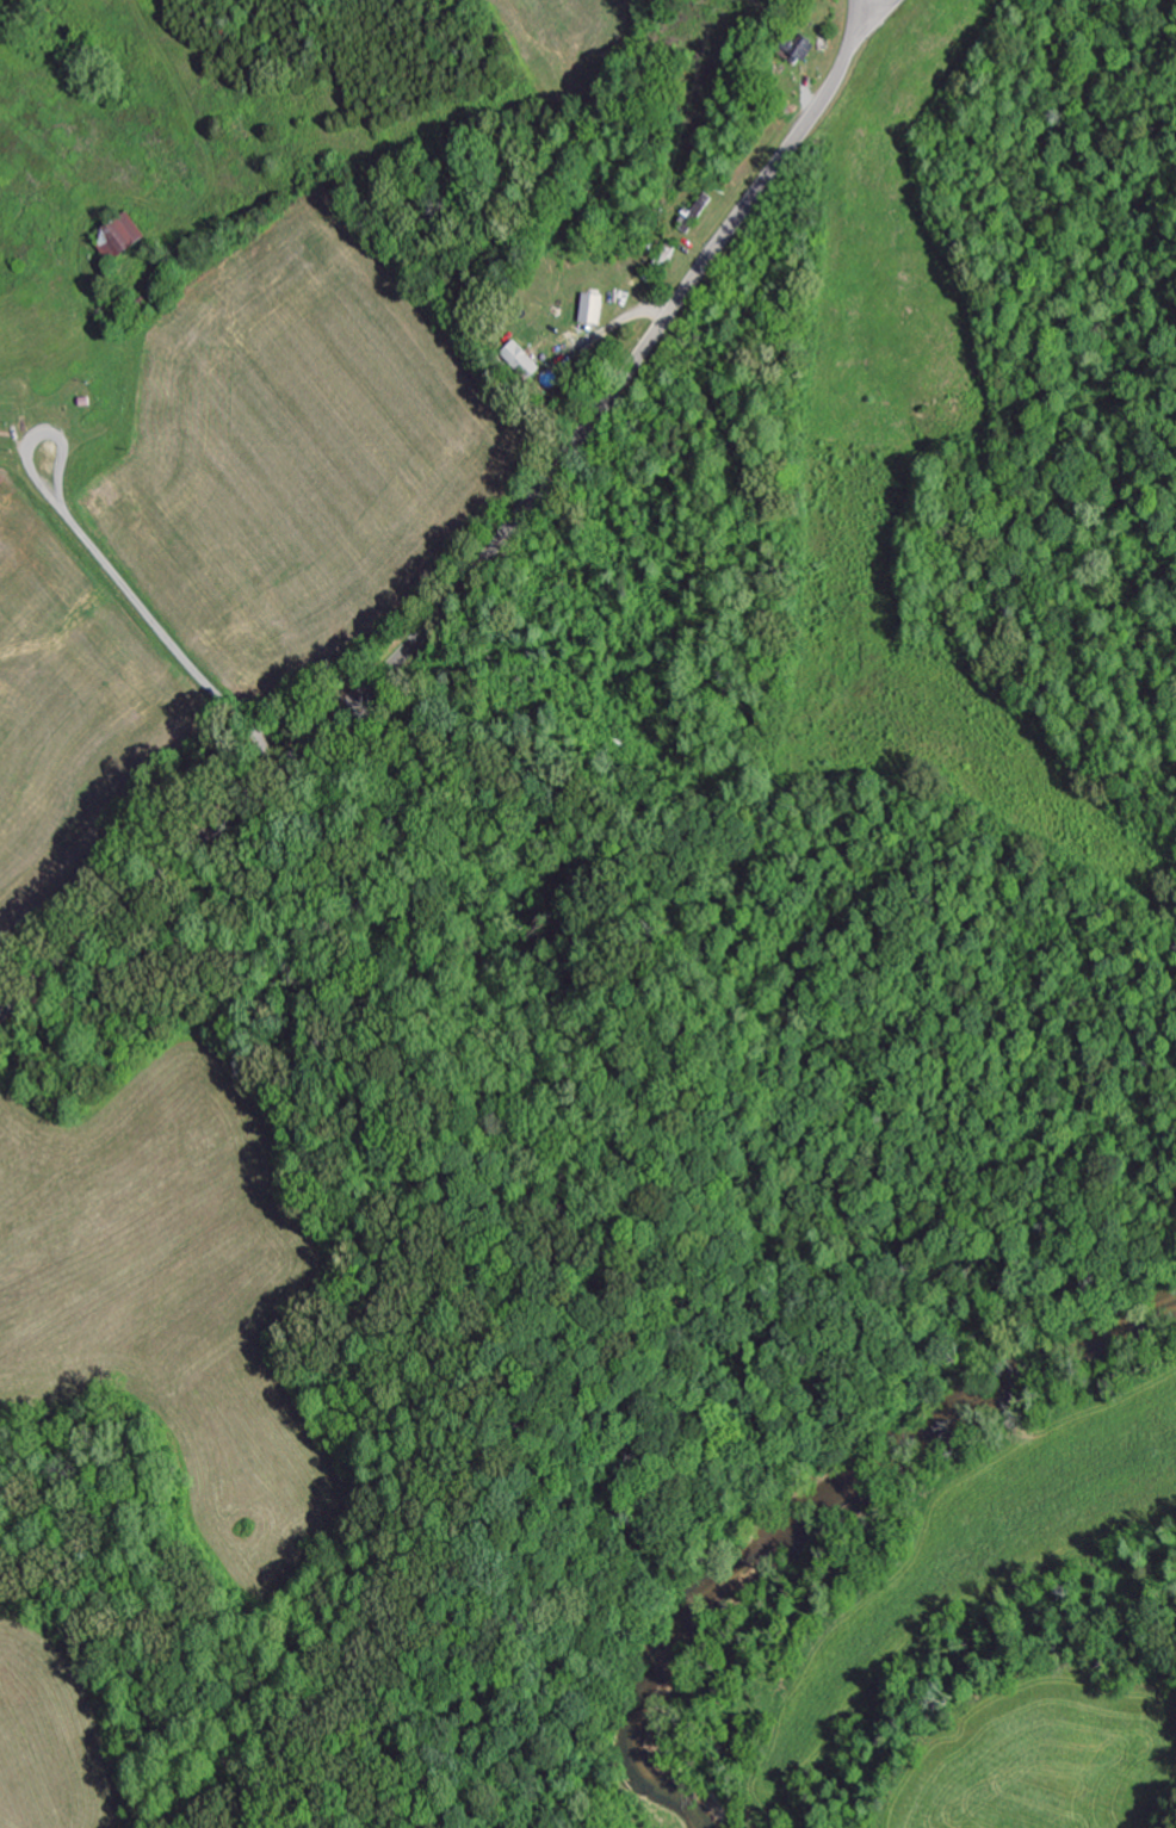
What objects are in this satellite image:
road: (873, 19)
road: (855, 20)
building: (588, 306)
road: (72, 321)
road: (475, 571)
road: (123, 622)
road: (1097, 1697)

